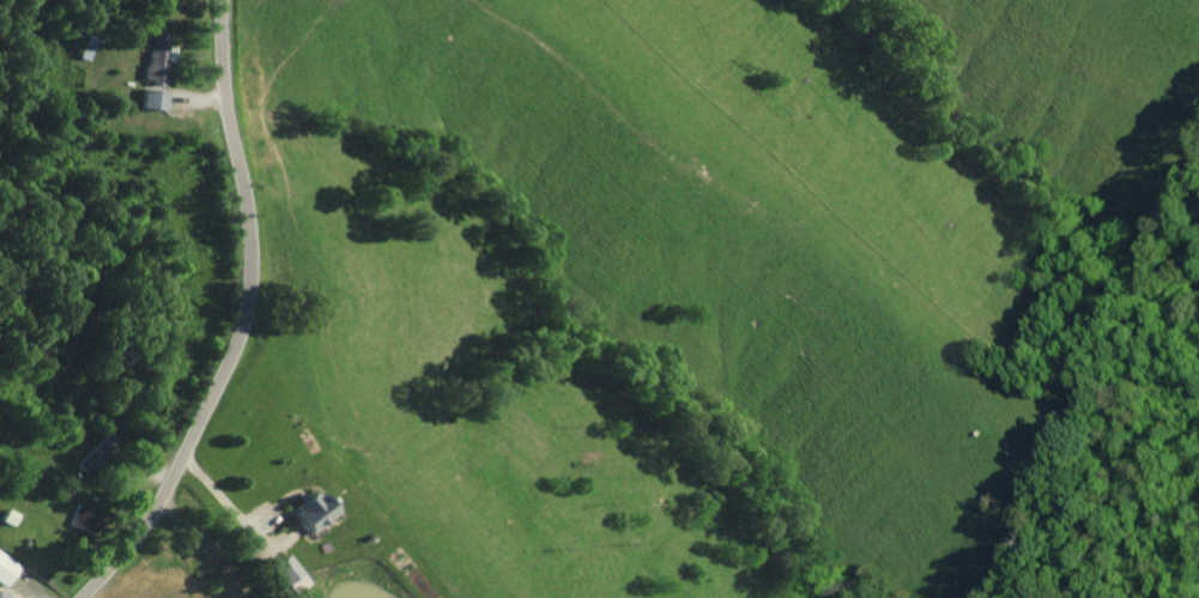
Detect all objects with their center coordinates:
building: (158, 58)
building: (157, 98)
road: (224, 320)
building: (315, 511)
building: (89, 517)
building: (10, 568)
building: (293, 574)

